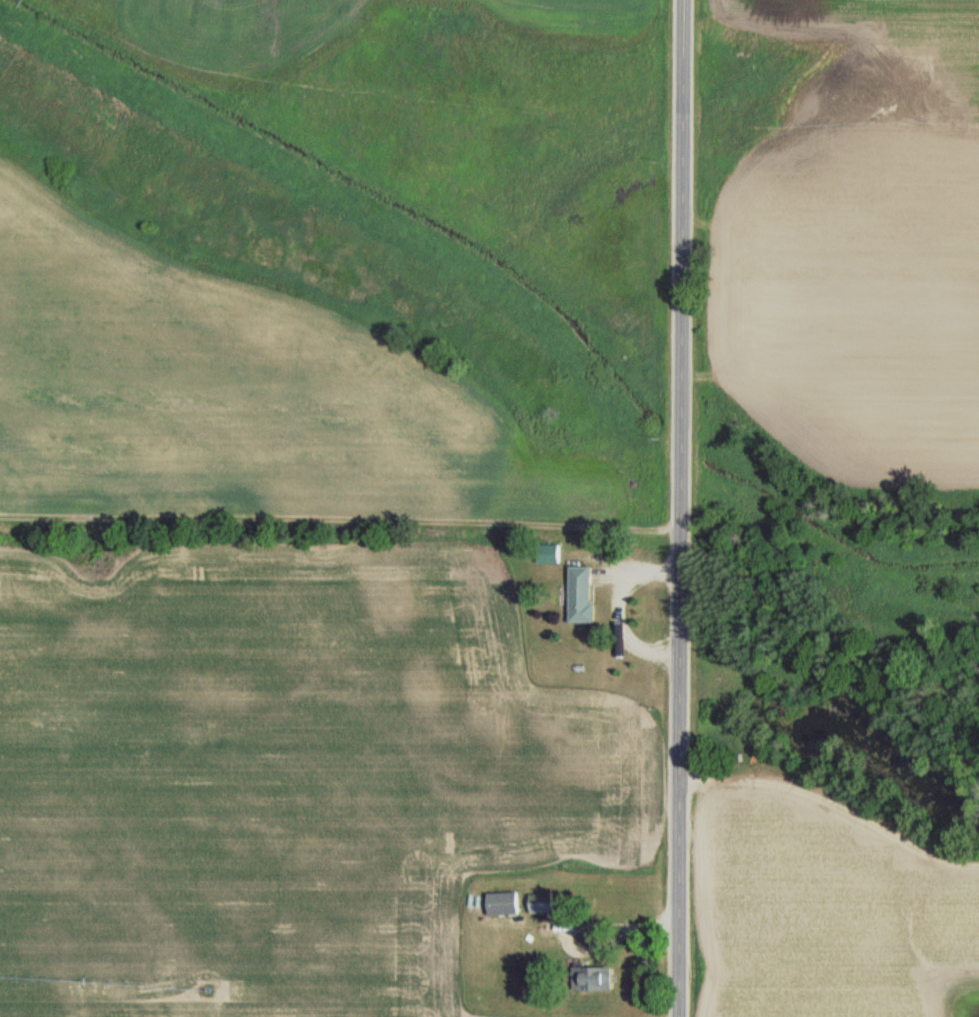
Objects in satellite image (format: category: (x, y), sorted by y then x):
road: (679, 508)
building: (547, 555)
building: (578, 594)
road: (619, 609)
building: (500, 903)
building: (538, 903)
road: (572, 924)
building: (588, 978)

